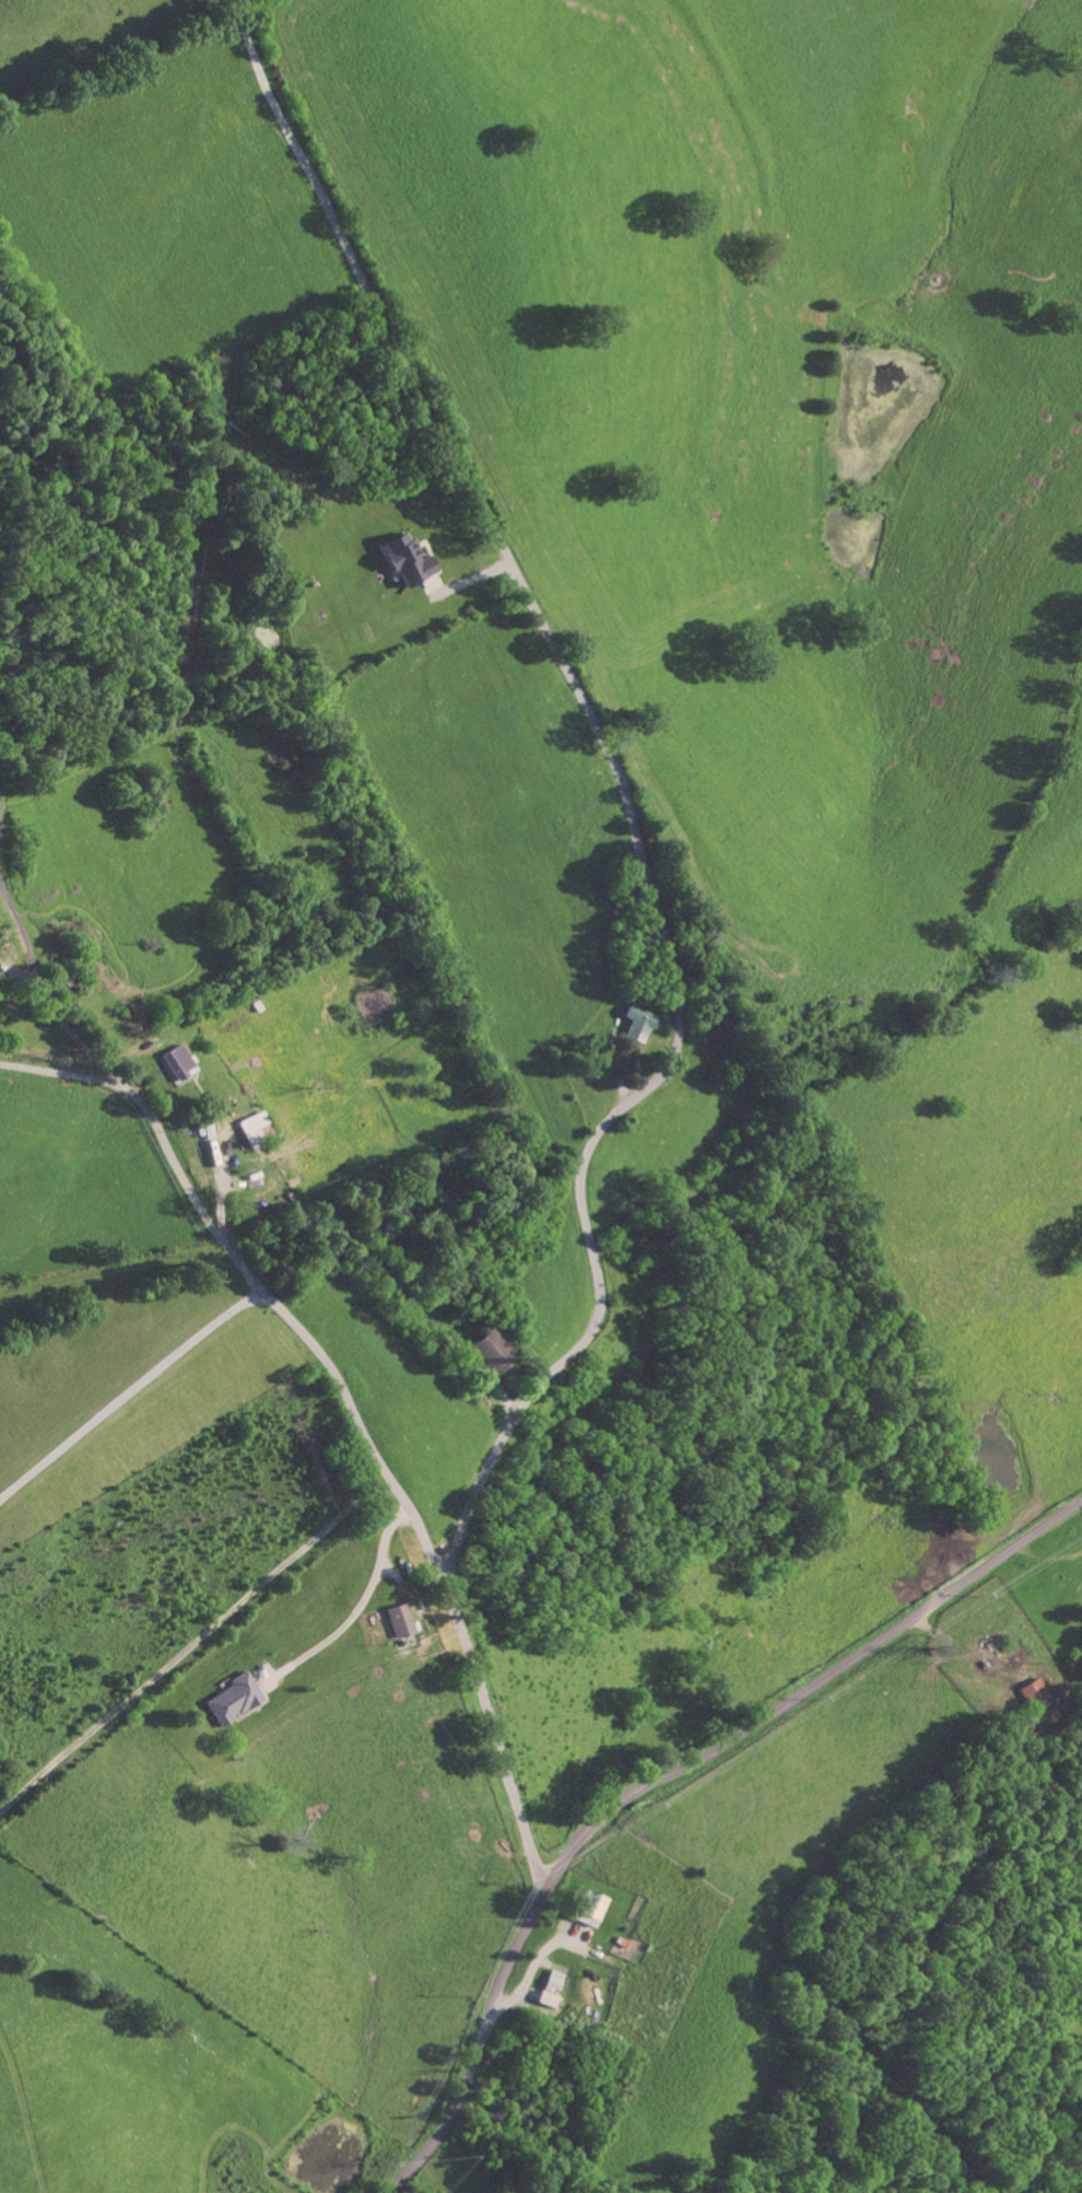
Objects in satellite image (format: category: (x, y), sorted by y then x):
building: (404, 558)
road: (988, 910)
road: (668, 949)
building: (637, 1020)
building: (174, 1061)
road: (57, 1071)
building: (249, 1127)
road: (221, 1236)
building: (486, 1350)
road: (130, 1393)
road: (364, 1596)
building: (393, 1619)
road: (195, 1642)
building: (1030, 1689)
building: (231, 1696)
road: (659, 1777)
road: (363, 2113)

